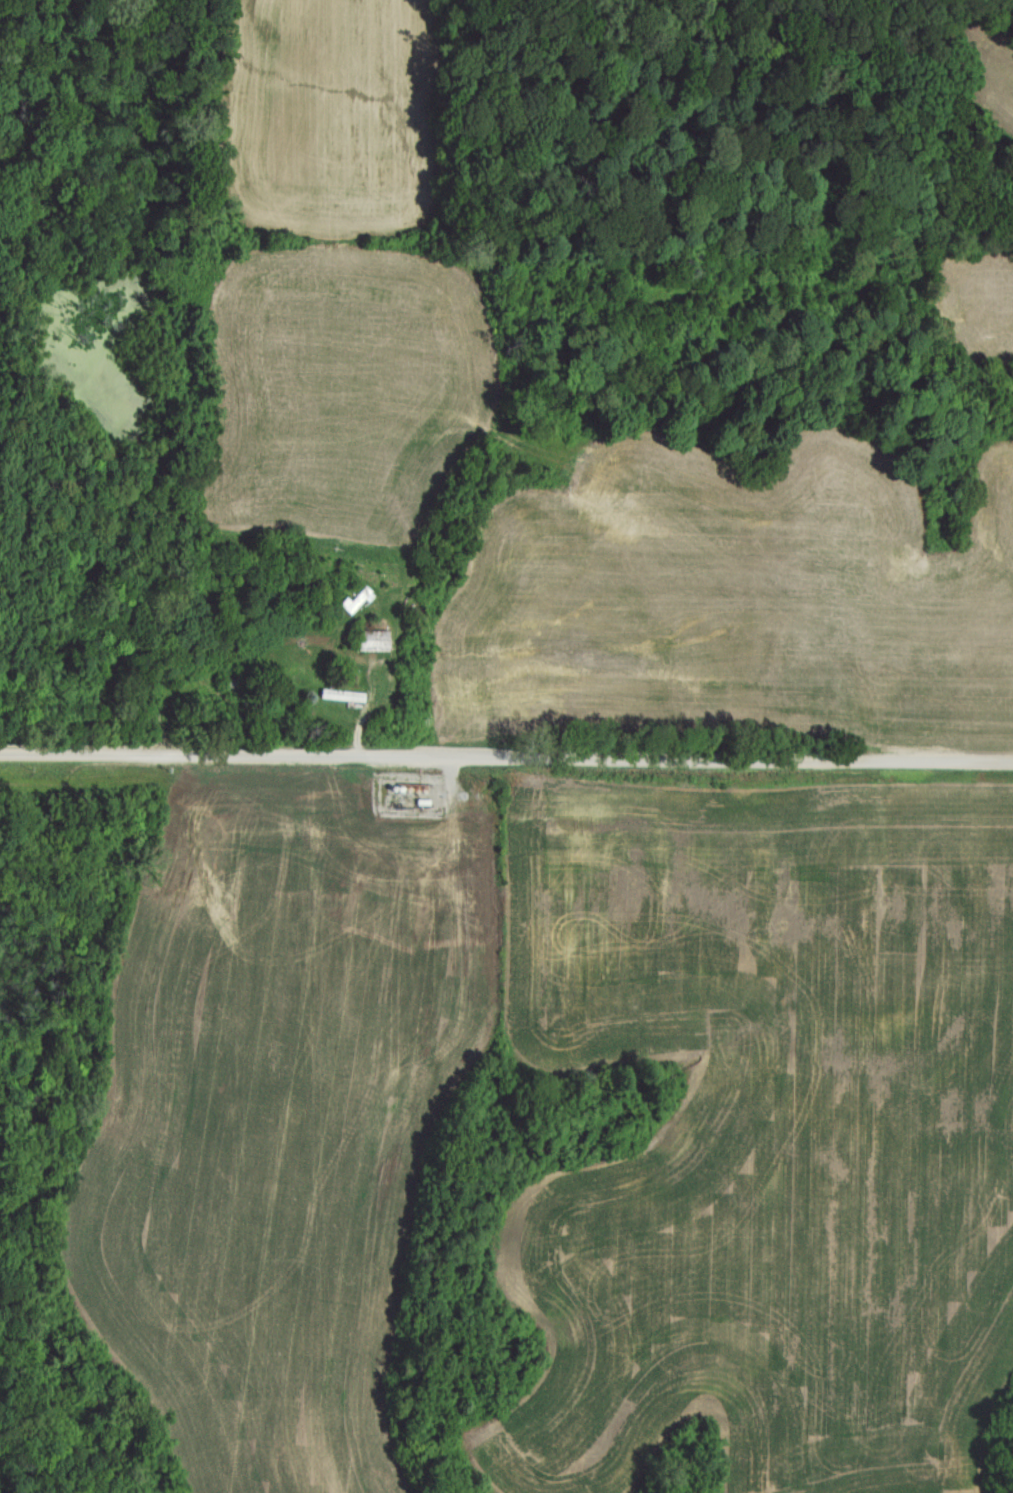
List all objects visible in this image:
building: (357, 604)
building: (372, 644)
road: (311, 727)
road: (506, 753)

